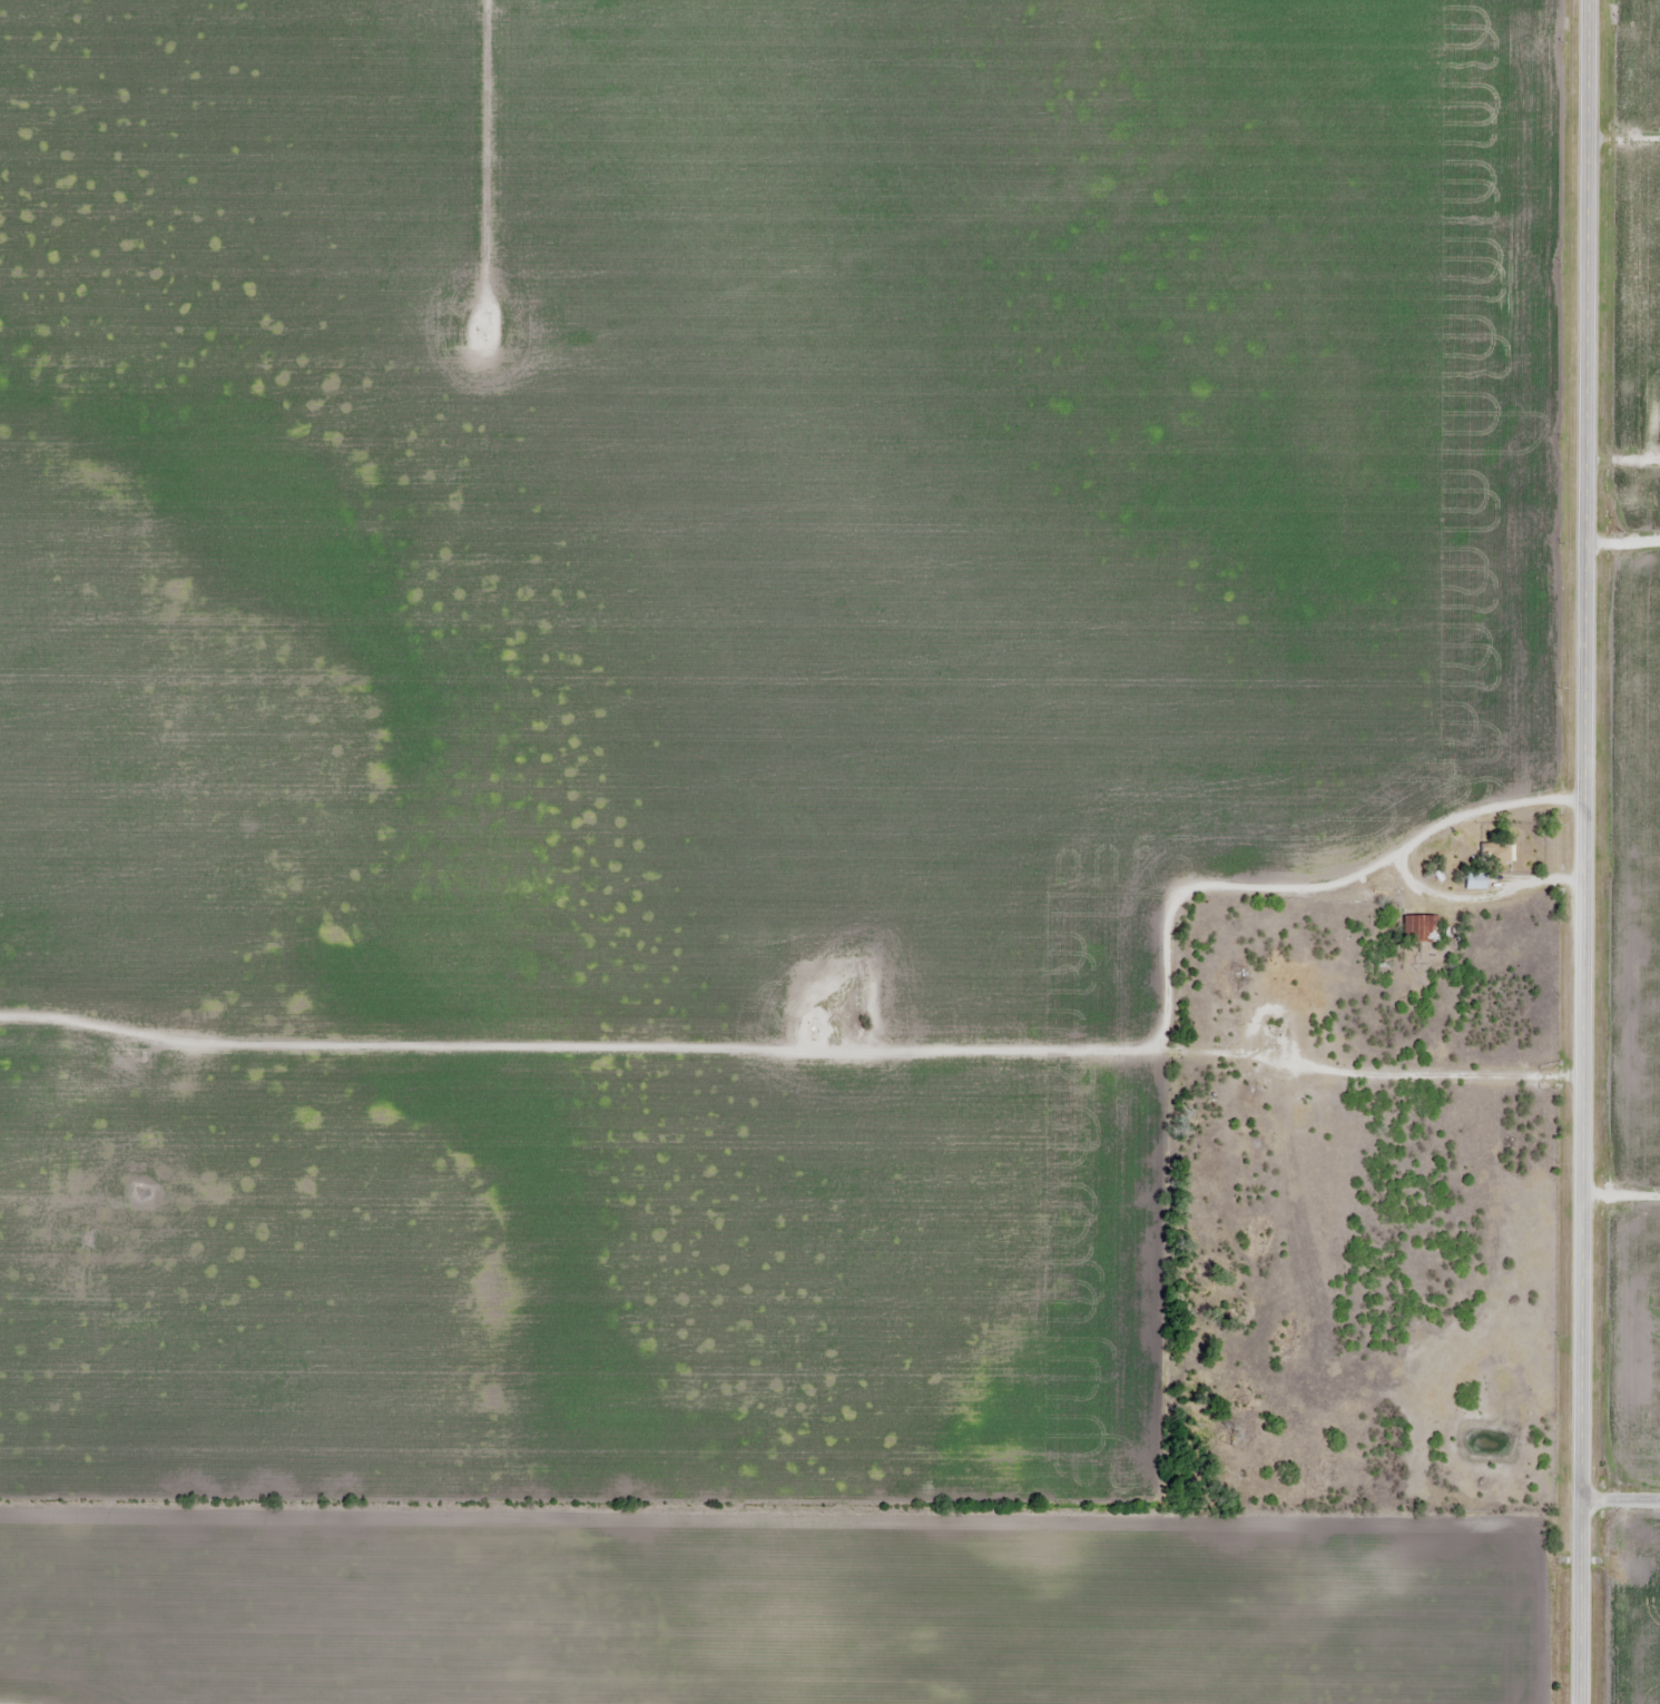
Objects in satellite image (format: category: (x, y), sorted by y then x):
road: (1582, 851)
building: (1474, 880)
road: (1620, 1496)

